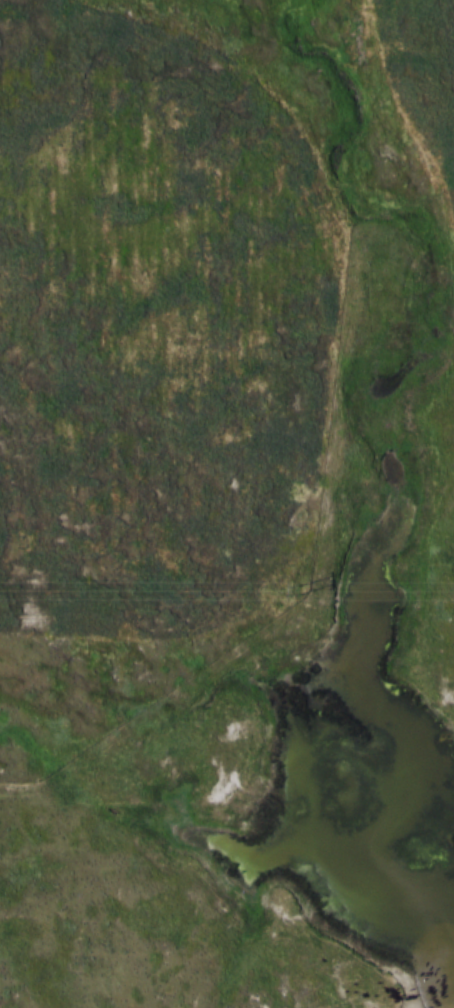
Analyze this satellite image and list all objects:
power tower: (300, 592)

